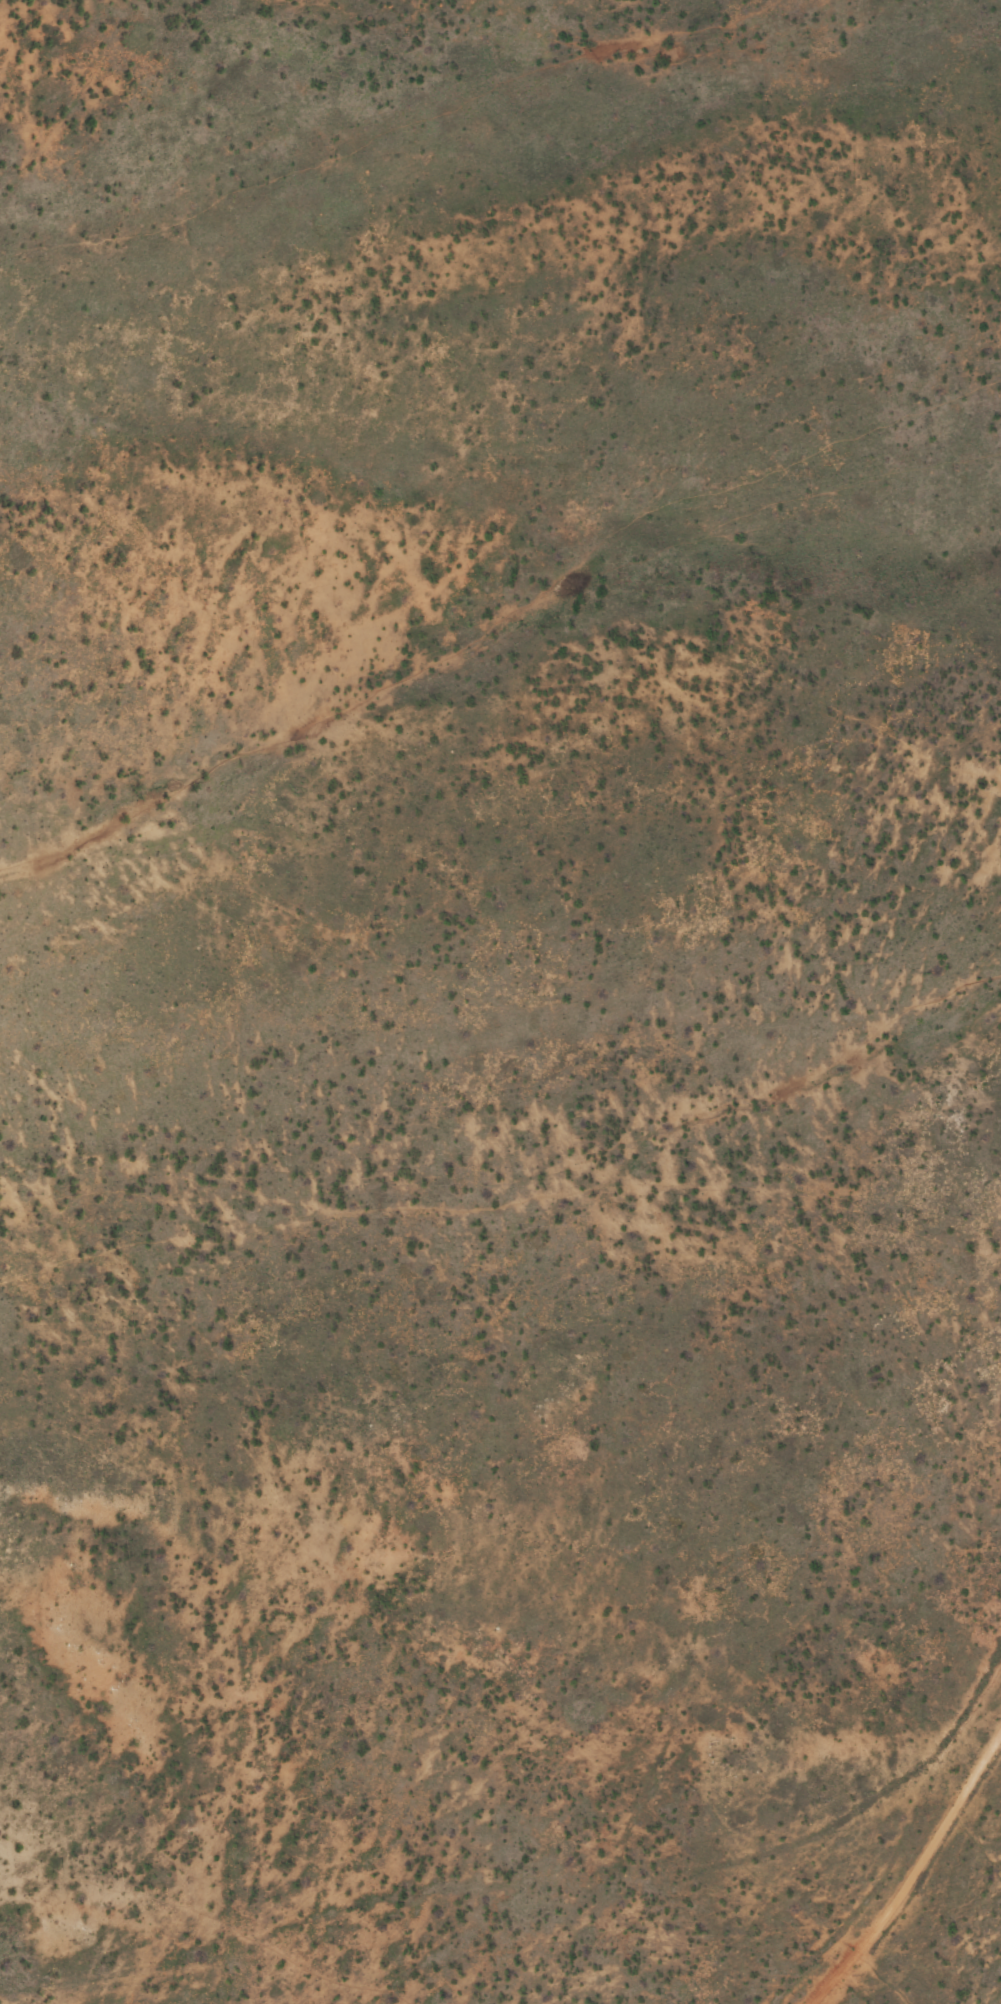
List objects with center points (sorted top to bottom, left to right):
road: (935, 1898)

